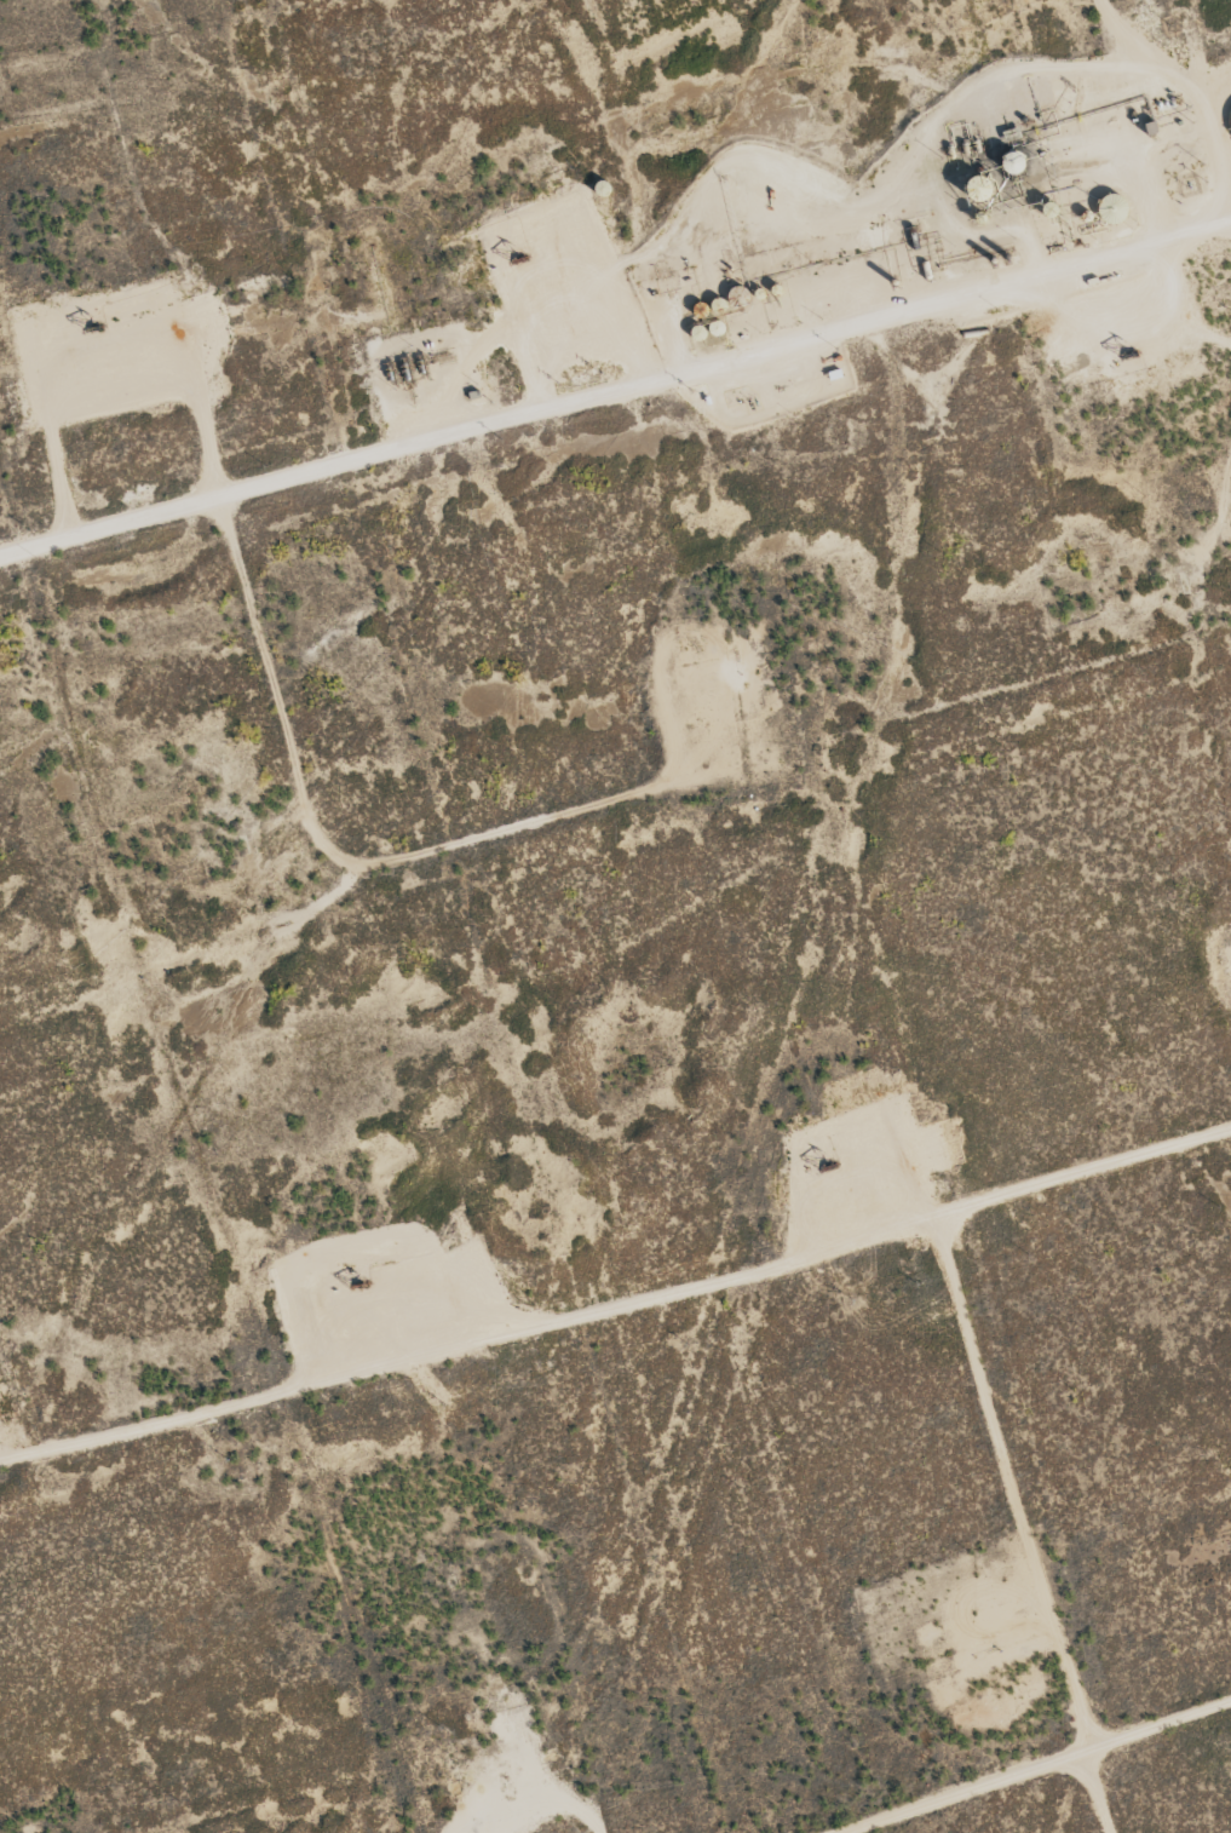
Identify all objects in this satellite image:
road: (1185, 76)
road: (157, 248)
road: (615, 387)
road: (272, 694)
road: (1039, 1766)
road: (591, 1818)

